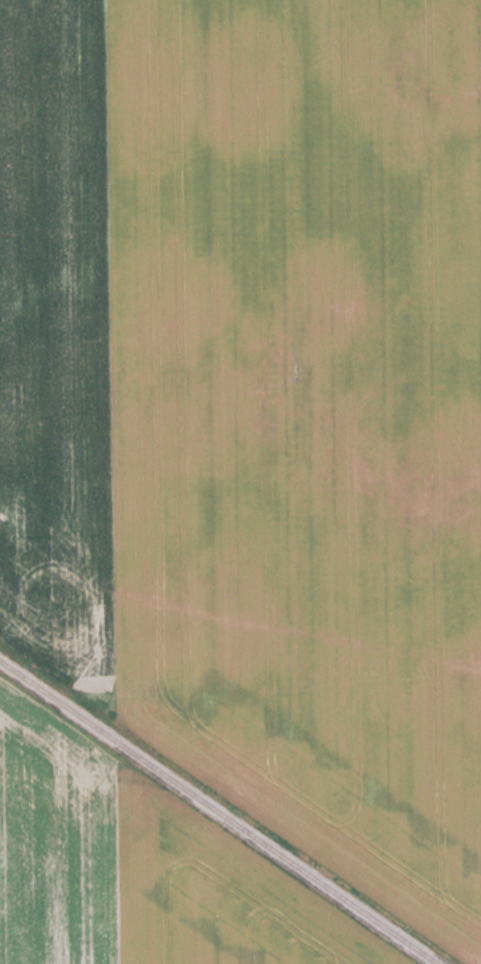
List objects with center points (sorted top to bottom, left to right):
railway: (220, 811)

